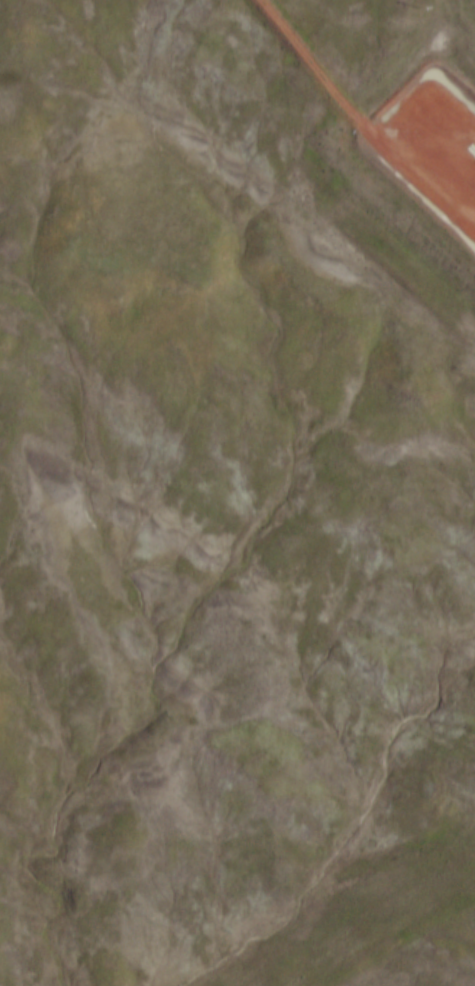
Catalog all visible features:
road: (354, 114)

